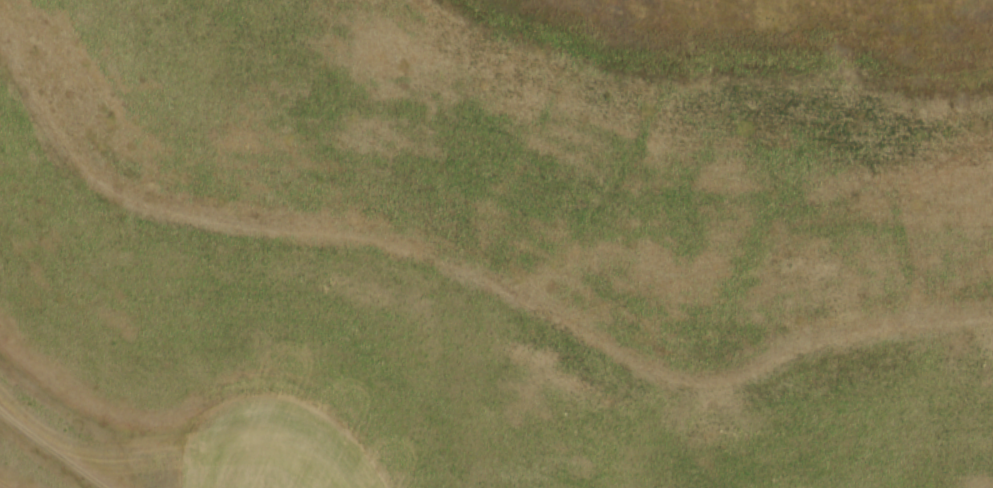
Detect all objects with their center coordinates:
crop: (170, 445)

